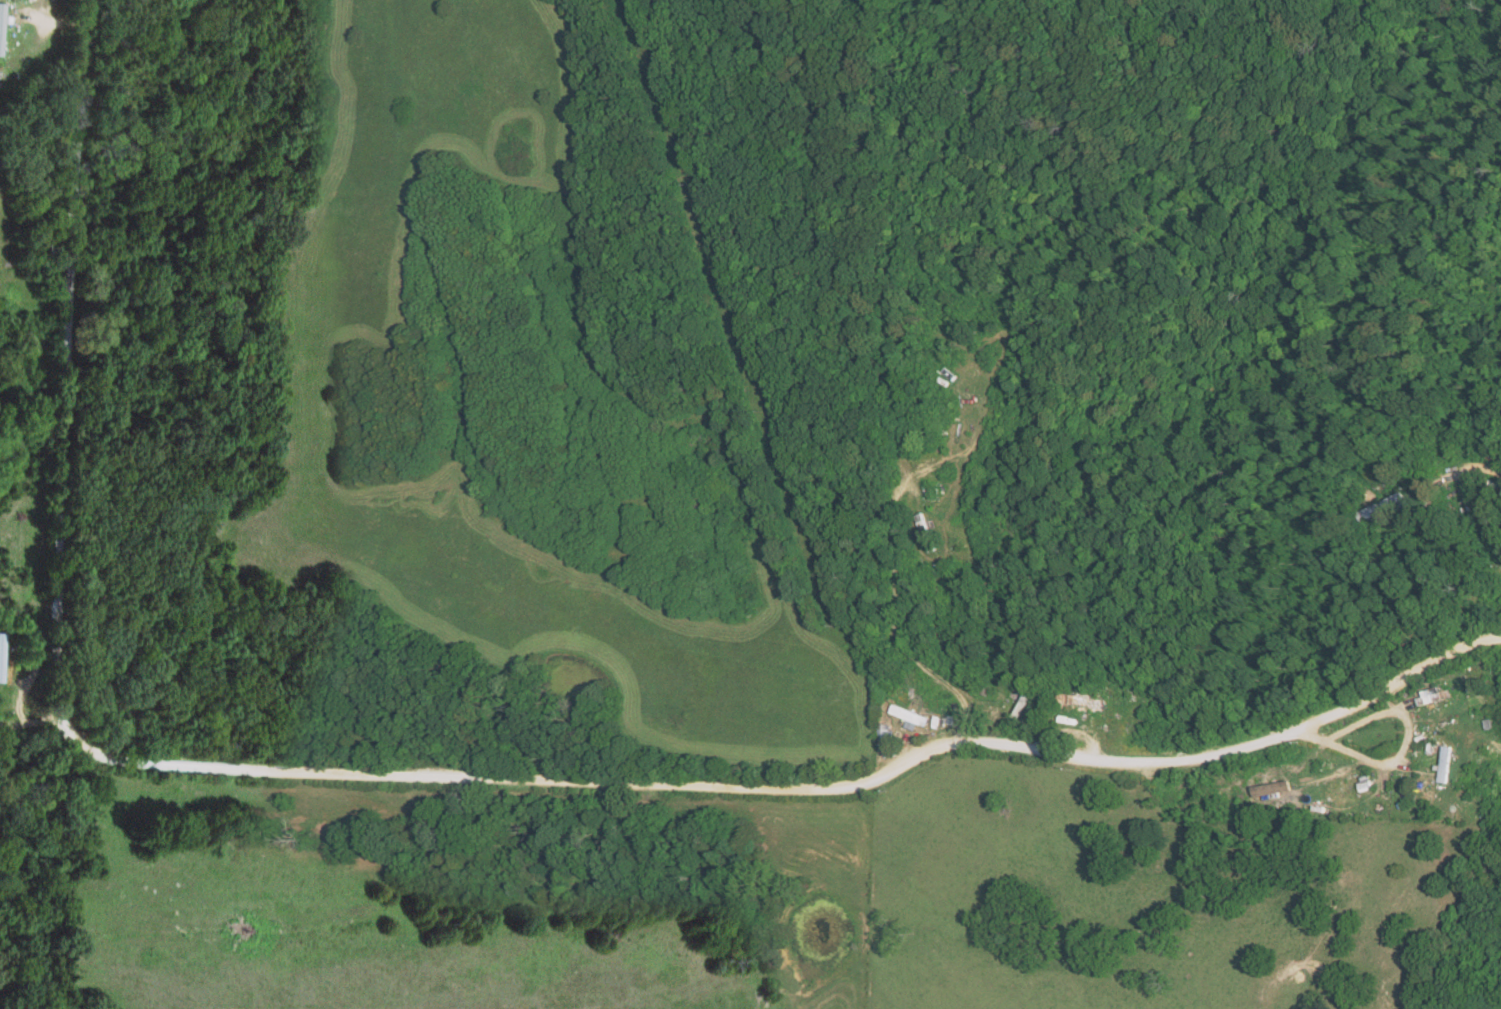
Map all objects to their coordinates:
building: (0, 6)
building: (2, 19)
road: (65, 359)
road: (1457, 472)
building: (1379, 506)
building: (1, 655)
road: (29, 718)
building: (1446, 763)
road: (1396, 764)
road: (787, 788)

